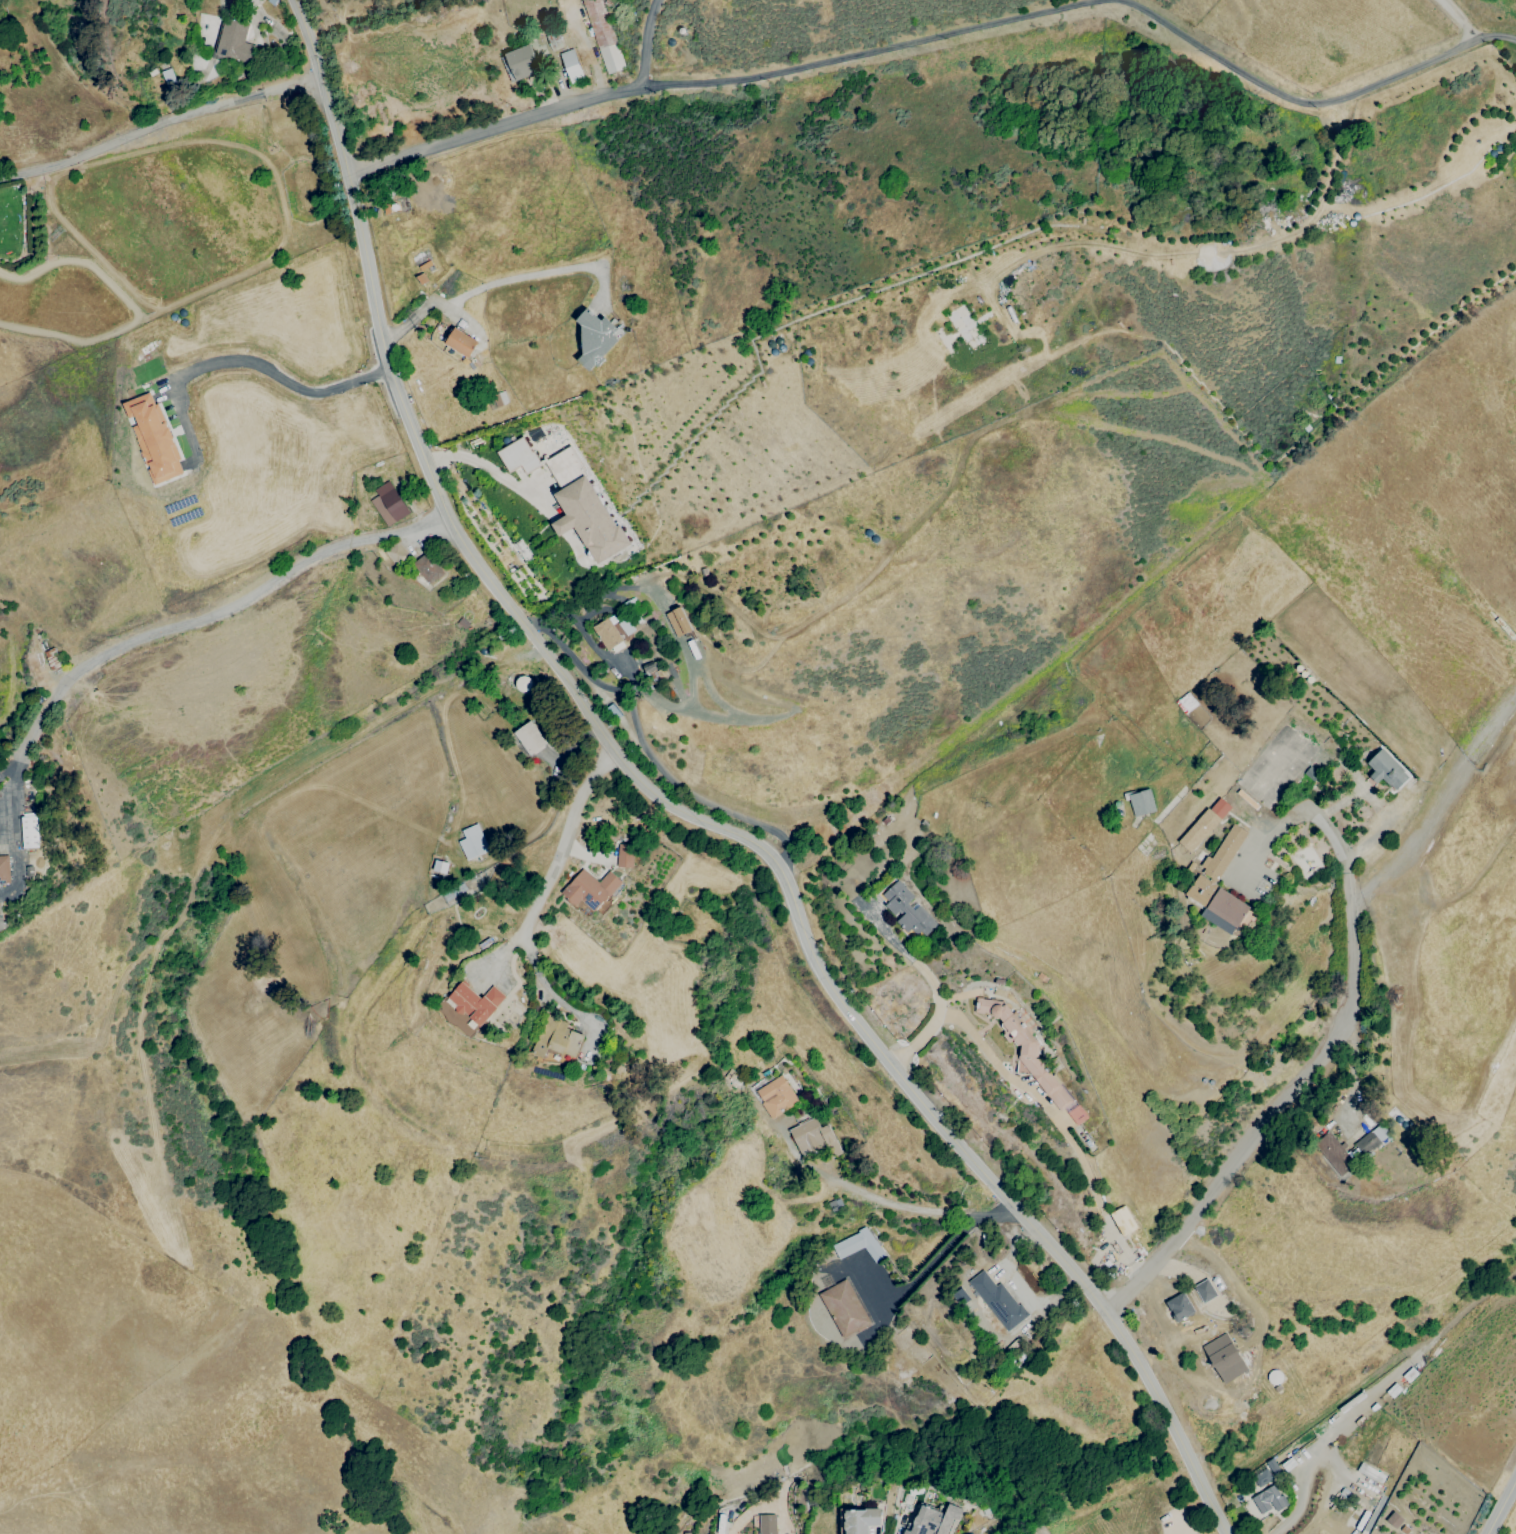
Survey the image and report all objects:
road: (1455, 19)
building: (602, 35)
road: (948, 37)
building: (236, 41)
road: (646, 43)
building: (521, 61)
building: (571, 65)
road: (161, 125)
road: (491, 284)
building: (595, 338)
building: (461, 342)
road: (283, 380)
building: (153, 437)
building: (517, 456)
road: (478, 463)
building: (388, 503)
building: (588, 520)
building: (395, 553)
building: (427, 568)
road: (247, 599)
building: (677, 621)
building: (624, 626)
building: (606, 634)
road: (37, 729)
building: (529, 737)
road: (646, 752)
road: (8, 766)
building: (1386, 770)
building: (1140, 802)
road: (684, 812)
building: (1203, 824)
road: (12, 830)
building: (30, 830)
building: (472, 841)
building: (1222, 852)
building: (624, 855)
building: (440, 866)
building: (5, 869)
road: (547, 871)
building: (589, 889)
building: (1216, 904)
building: (906, 909)
building: (475, 1002)
building: (556, 1041)
building: (1023, 1048)
road: (1297, 1082)
building: (775, 1096)
road: (1039, 1099)
building: (812, 1138)
building: (1370, 1139)
building: (1335, 1154)
road: (914, 1208)
building: (1122, 1220)
building: (858, 1245)
building: (1204, 1290)
building: (999, 1300)
building: (1178, 1307)
building: (843, 1308)
building: (1223, 1357)
building: (1265, 1473)
road: (1301, 1491)
building: (1268, 1499)
road: (1503, 1509)
road: (744, 1514)
building: (1393, 1519)
building: (862, 1520)
building: (934, 1520)
building: (768, 1524)

